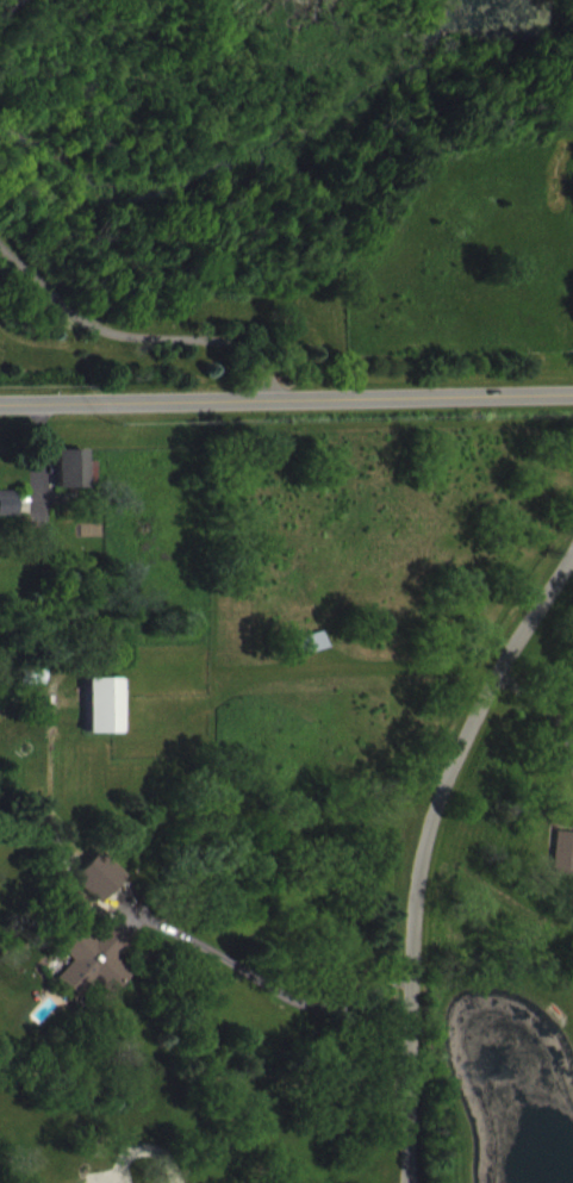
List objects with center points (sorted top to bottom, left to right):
road: (7, 6)
road: (145, 335)
road: (286, 413)
building: (75, 485)
building: (8, 518)
building: (311, 659)
building: (36, 690)
road: (538, 703)
building: (108, 721)
road: (424, 848)
building: (565, 870)
building: (118, 898)
building: (95, 976)
road: (264, 982)
road: (150, 1168)

